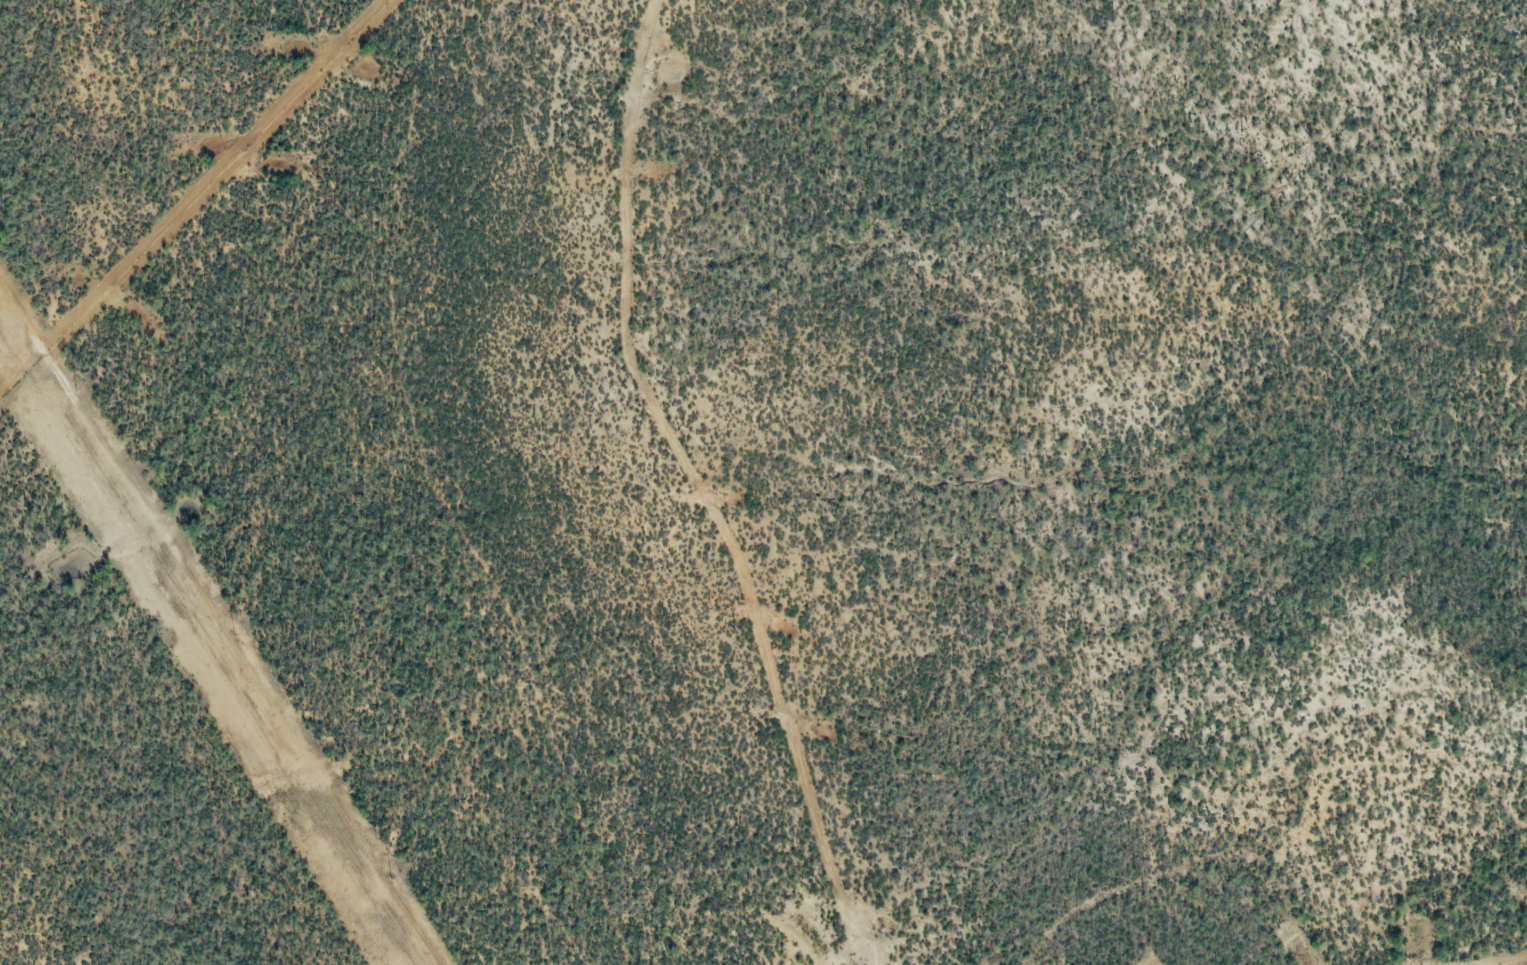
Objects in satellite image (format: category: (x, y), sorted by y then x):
power tower: (75, 387)
power tower: (234, 633)
power tower: (389, 877)

